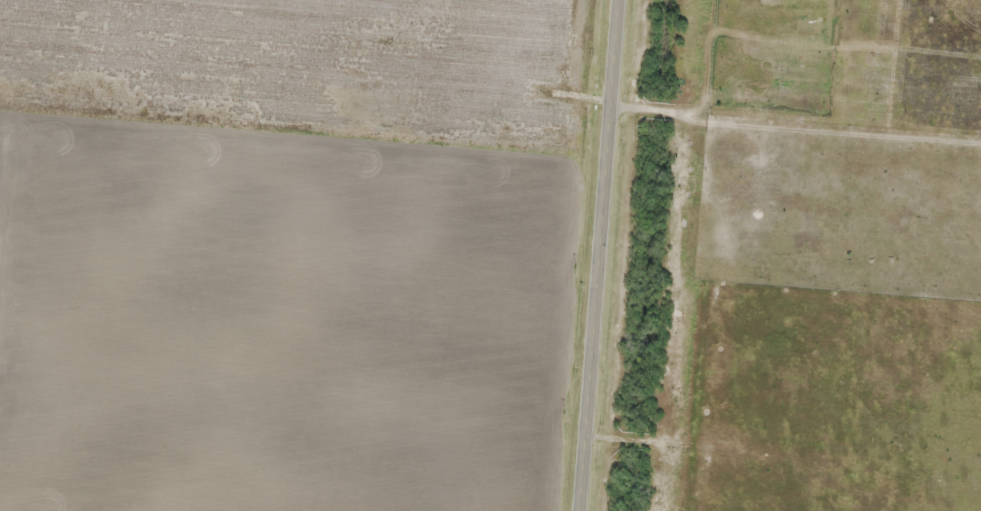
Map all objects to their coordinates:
road: (598, 255)

